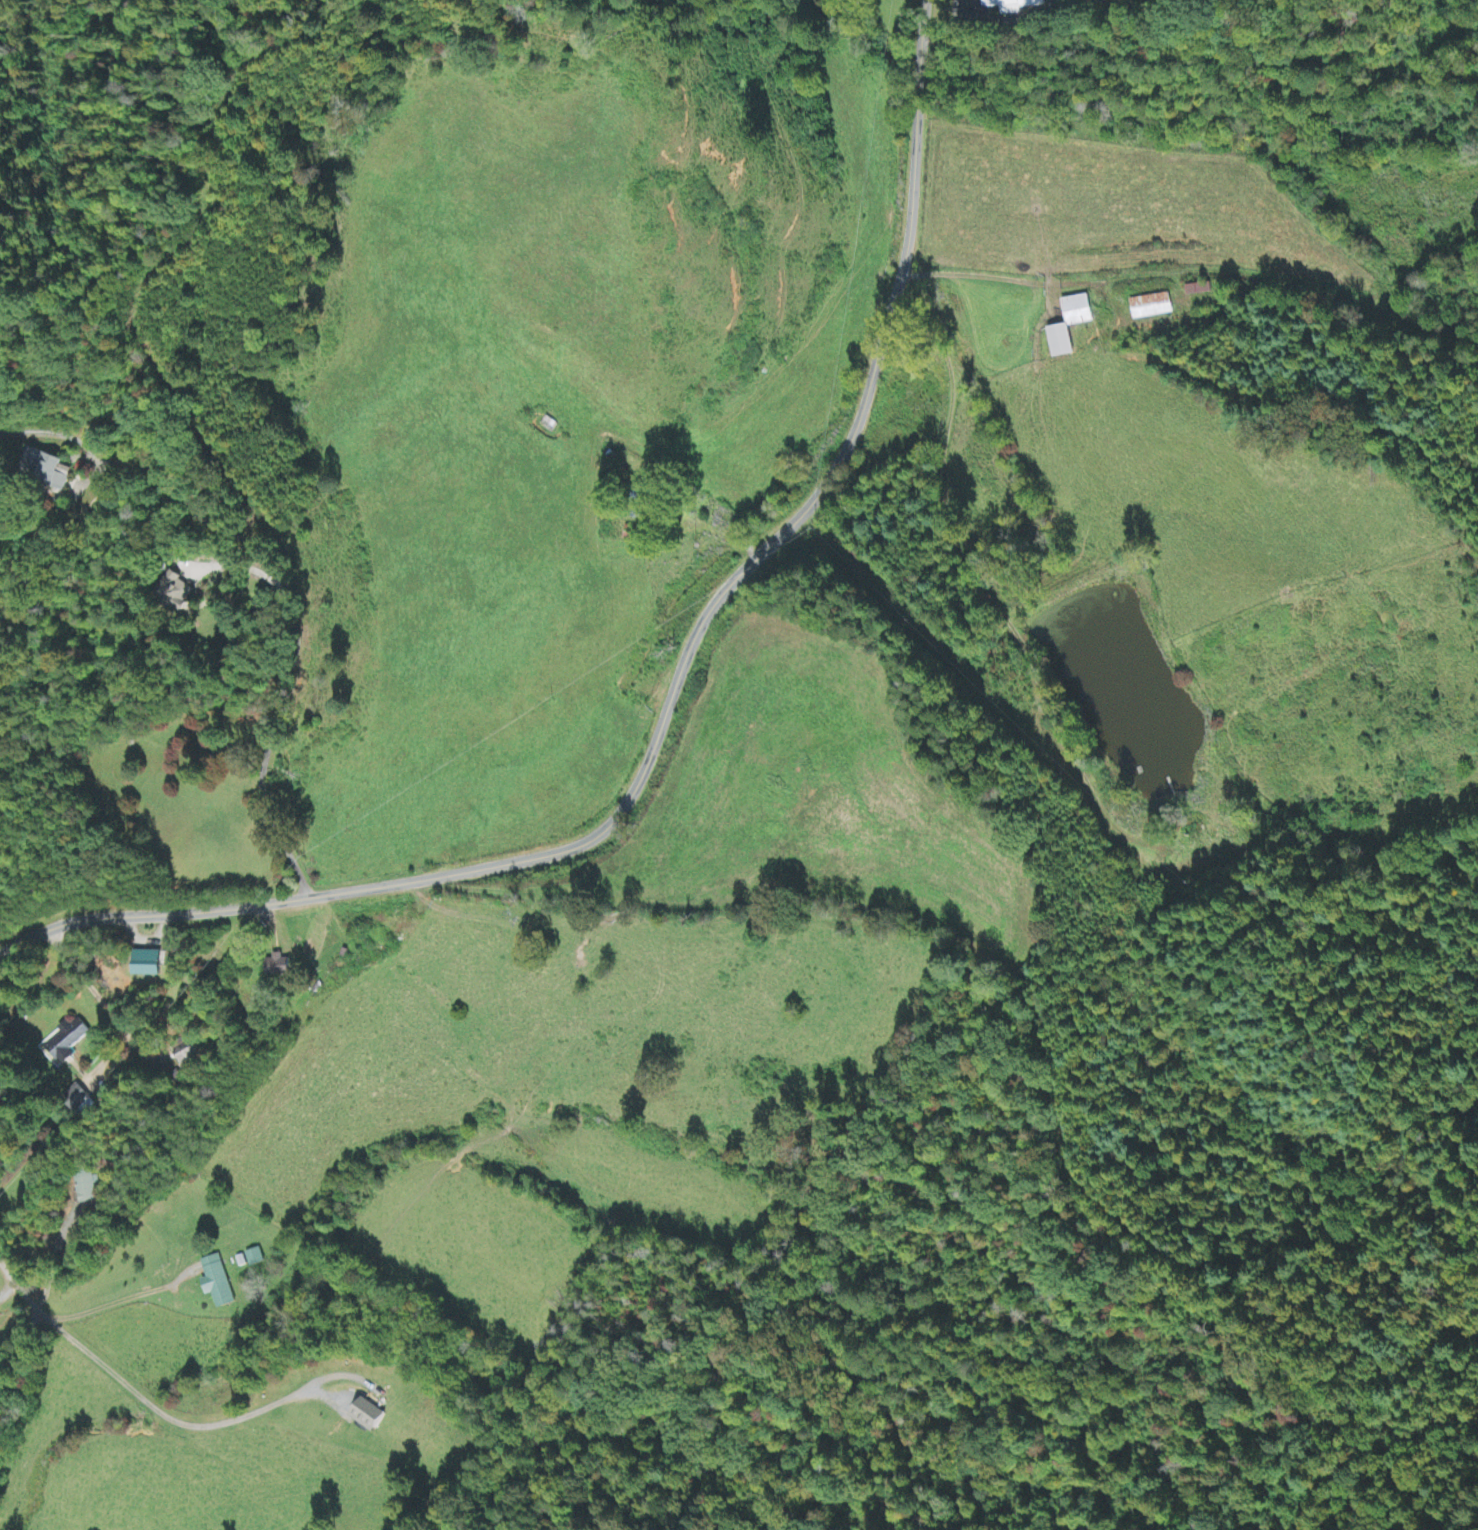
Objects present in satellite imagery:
park: (1228, 2)
building: (1016, 4)
building: (1153, 307)
building: (1078, 311)
building: (1061, 341)
building: (46, 469)
building: (632, 534)
road: (248, 567)
road: (290, 581)
building: (179, 593)
road: (674, 709)
building: (149, 964)
building: (279, 967)
building: (67, 1043)
building: (77, 1097)
building: (88, 1189)
building: (255, 1259)
building: (218, 1283)
road: (35, 1320)
building: (370, 1416)

